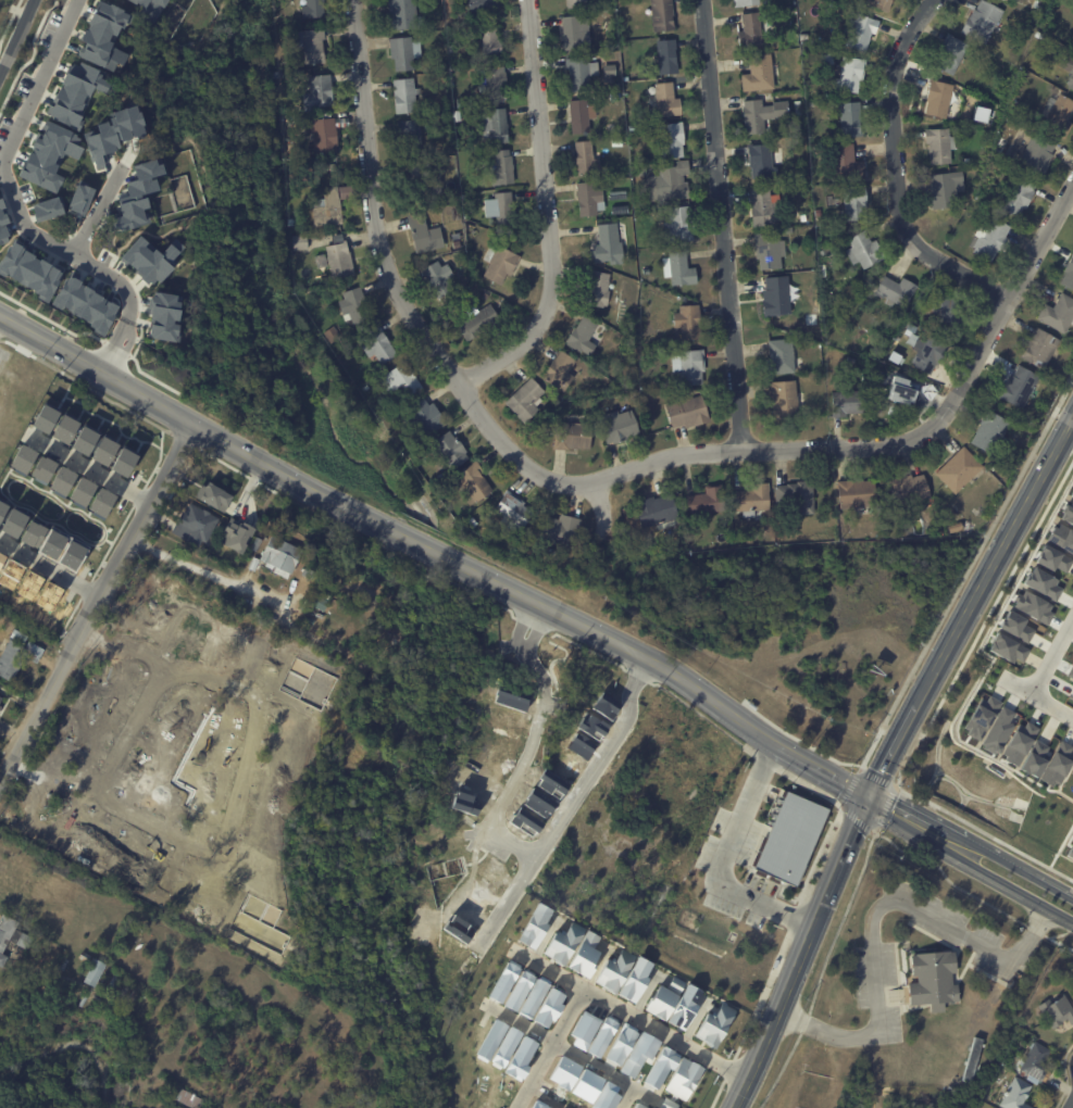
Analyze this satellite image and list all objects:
building: (766, 1)
building: (745, 2)
building: (575, 3)
building: (878, 3)
building: (1039, 4)
building: (481, 5)
building: (312, 9)
building: (149, 10)
building: (404, 14)
building: (662, 14)
building: (982, 21)
building: (749, 30)
building: (575, 33)
building: (860, 33)
road: (16, 35)
building: (1038, 35)
building: (103, 36)
building: (488, 42)
building: (608, 43)
building: (310, 45)
building: (451, 49)
building: (403, 52)
building: (951, 53)
building: (666, 56)
building: (1026, 63)
building: (579, 73)
building: (758, 74)
building: (849, 74)
building: (1071, 79)
building: (494, 81)
building: (615, 86)
building: (317, 91)
building: (74, 93)
building: (404, 96)
building: (613, 96)
building: (938, 98)
building: (665, 99)
building: (797, 106)
building: (758, 113)
building: (980, 114)
building: (578, 116)
building: (1060, 116)
building: (850, 119)
building: (494, 125)
building: (324, 131)
building: (114, 133)
building: (409, 136)
building: (671, 139)
building: (616, 143)
building: (939, 144)
building: (799, 153)
building: (1036, 153)
building: (49, 154)
building: (585, 159)
building: (760, 160)
building: (966, 161)
building: (846, 163)
building: (501, 168)
building: (640, 172)
road: (896, 173)
building: (145, 177)
building: (816, 178)
building: (423, 179)
building: (667, 182)
building: (944, 189)
building: (1018, 196)
building: (465, 198)
building: (79, 199)
building: (588, 199)
building: (833, 200)
building: (854, 202)
building: (46, 207)
building: (326, 207)
road: (17, 209)
building: (499, 209)
building: (764, 209)
road: (99, 210)
building: (818, 212)
road: (548, 213)
building: (128, 214)
building: (796, 216)
building: (2, 222)
building: (677, 225)
road: (723, 225)
building: (423, 234)
building: (990, 239)
building: (298, 242)
building: (608, 244)
building: (769, 250)
building: (863, 250)
building: (831, 251)
building: (653, 253)
building: (462, 256)
building: (150, 259)
building: (320, 261)
building: (338, 261)
building: (499, 264)
building: (28, 268)
building: (677, 268)
building: (821, 270)
building: (1068, 275)
building: (437, 278)
building: (651, 278)
road: (398, 288)
building: (595, 289)
building: (895, 291)
building: (777, 295)
building: (85, 303)
building: (353, 306)
building: (945, 311)
building: (1058, 313)
building: (815, 316)
building: (164, 317)
building: (477, 323)
building: (686, 323)
building: (330, 333)
building: (581, 337)
building: (639, 341)
building: (376, 345)
building: (1039, 349)
building: (927, 354)
building: (781, 357)
building: (687, 368)
building: (559, 372)
building: (400, 380)
building: (1060, 382)
building: (1019, 387)
building: (364, 388)
building: (899, 390)
building: (785, 399)
building: (525, 400)
building: (627, 400)
building: (849, 403)
building: (686, 412)
building: (423, 417)
building: (45, 418)
road: (1072, 425)
building: (616, 426)
building: (64, 429)
building: (989, 432)
building: (1014, 435)
building: (571, 436)
road: (901, 438)
building: (84, 440)
building: (104, 450)
building: (448, 450)
building: (22, 458)
building: (124, 461)
building: (991, 466)
building: (41, 469)
building: (959, 470)
road: (96, 474)
building: (61, 480)
building: (471, 484)
building: (80, 490)
building: (907, 490)
building: (1071, 493)
building: (856, 494)
building: (797, 495)
building: (214, 496)
building: (751, 500)
building: (101, 502)
building: (708, 502)
road: (601, 505)
building: (1, 507)
building: (511, 512)
building: (657, 512)
building: (1066, 513)
building: (454, 515)
building: (10, 522)
building: (471, 522)
building: (192, 524)
building: (955, 528)
building: (562, 530)
building: (841, 530)
building: (30, 533)
building: (236, 533)
building: (852, 534)
building: (1061, 538)
building: (749, 539)
road: (1007, 540)
building: (53, 545)
road: (434, 553)
building: (280, 555)
building: (74, 556)
building: (1051, 558)
building: (1, 561)
building: (253, 563)
road: (51, 569)
road: (204, 571)
building: (308, 572)
building: (11, 575)
building: (1040, 582)
building: (30, 586)
building: (173, 586)
building: (50, 596)
road: (97, 605)
building: (1031, 606)
building: (1014, 627)
building: (17, 635)
road: (548, 638)
road: (99, 642)
road: (523, 646)
building: (1006, 647)
road: (121, 649)
road: (151, 653)
building: (15, 656)
road: (1051, 657)
road: (989, 663)
parking lot: (228, 666)
building: (1070, 671)
road: (637, 676)
parking lot: (216, 689)
road: (998, 690)
building: (1071, 694)
building: (510, 697)
building: (0, 698)
road: (1011, 698)
road: (1038, 698)
building: (603, 705)
building: (0, 707)
road: (1036, 714)
road: (702, 715)
building: (980, 717)
building: (590, 725)
road: (902, 727)
road: (1048, 727)
building: (996, 731)
road: (1069, 735)
building: (1016, 743)
road: (54, 745)
building: (578, 745)
building: (1033, 759)
road: (764, 760)
building: (1055, 764)
road: (1063, 776)
parking lot: (117, 780)
building: (550, 783)
parking lot: (129, 797)
traffic signals: (866, 797)
building: (461, 802)
building: (537, 802)
building: (80, 818)
building: (524, 821)
parking lot: (216, 827)
parking lot: (198, 832)
building: (789, 836)
road: (1068, 840)
road: (971, 842)
road: (1061, 846)
road: (846, 847)
road: (213, 848)
building: (1070, 852)
road: (529, 853)
road: (724, 858)
road: (173, 864)
road: (966, 864)
parking lot: (734, 870)
road: (507, 904)
road: (872, 917)
building: (182, 918)
building: (534, 924)
parking lot: (957, 928)
building: (454, 929)
building: (11, 933)
road: (544, 940)
building: (561, 944)
building: (584, 953)
building: (1, 957)
building: (1072, 962)
road: (547, 967)
road: (596, 969)
building: (614, 970)
building: (93, 972)
building: (503, 979)
building: (634, 979)
building: (933, 979)
building: (115, 981)
parking lot: (877, 987)
building: (520, 990)
road: (645, 994)
building: (75, 995)
building: (133, 995)
building: (662, 997)
building: (538, 999)
building: (101, 1002)
road: (781, 1003)
building: (685, 1007)
building: (554, 1008)
building: (1058, 1011)
building: (116, 1017)
road: (517, 1021)
road: (694, 1022)
building: (713, 1025)
building: (581, 1027)
road: (664, 1033)
building: (601, 1034)
building: (487, 1035)
building: (620, 1045)
building: (503, 1046)
road: (546, 1046)
building: (639, 1055)
building: (521, 1056)
building: (1034, 1062)
road: (590, 1063)
building: (659, 1067)
building: (562, 1072)
building: (683, 1078)
building: (584, 1085)
building: (489, 1093)
building: (1015, 1094)
road: (646, 1095)
building: (604, 1097)
road: (625, 1097)
building: (189, 1099)
building: (535, 1104)
building: (666, 1104)
road: (1071, 1104)
building: (476, 1106)
building: (637, 1106)

